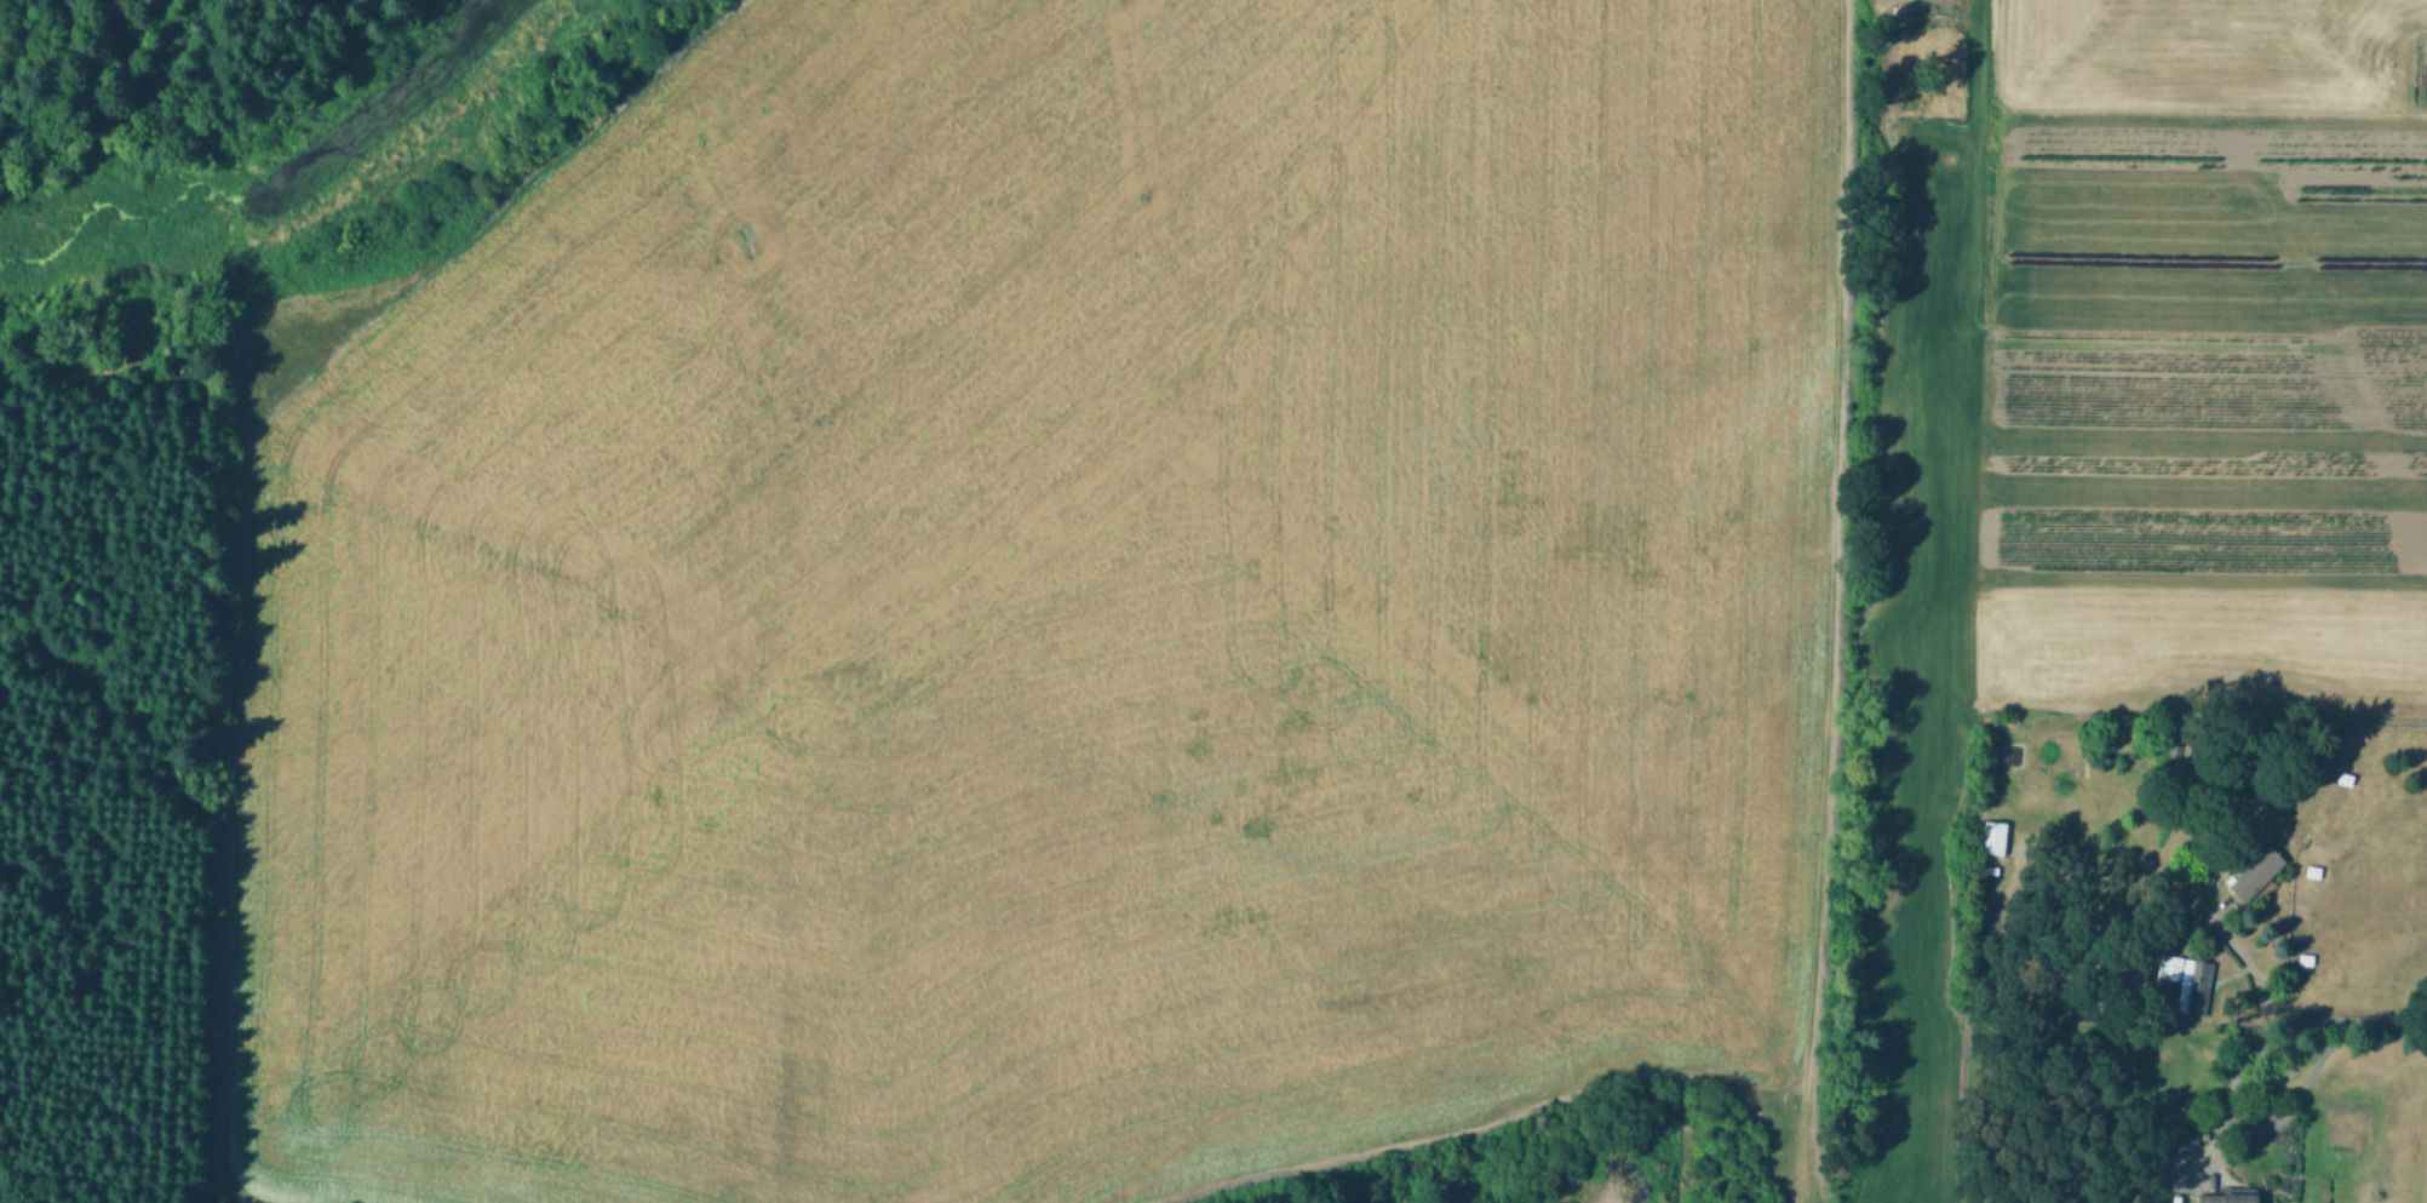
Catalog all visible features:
road: (1837, 307)
building: (2343, 781)
building: (1995, 836)
building: (2314, 871)
building: (2259, 875)
building: (2306, 959)
building: (2188, 981)
road: (2270, 1015)
road: (2271, 1123)
building: (2232, 1196)

